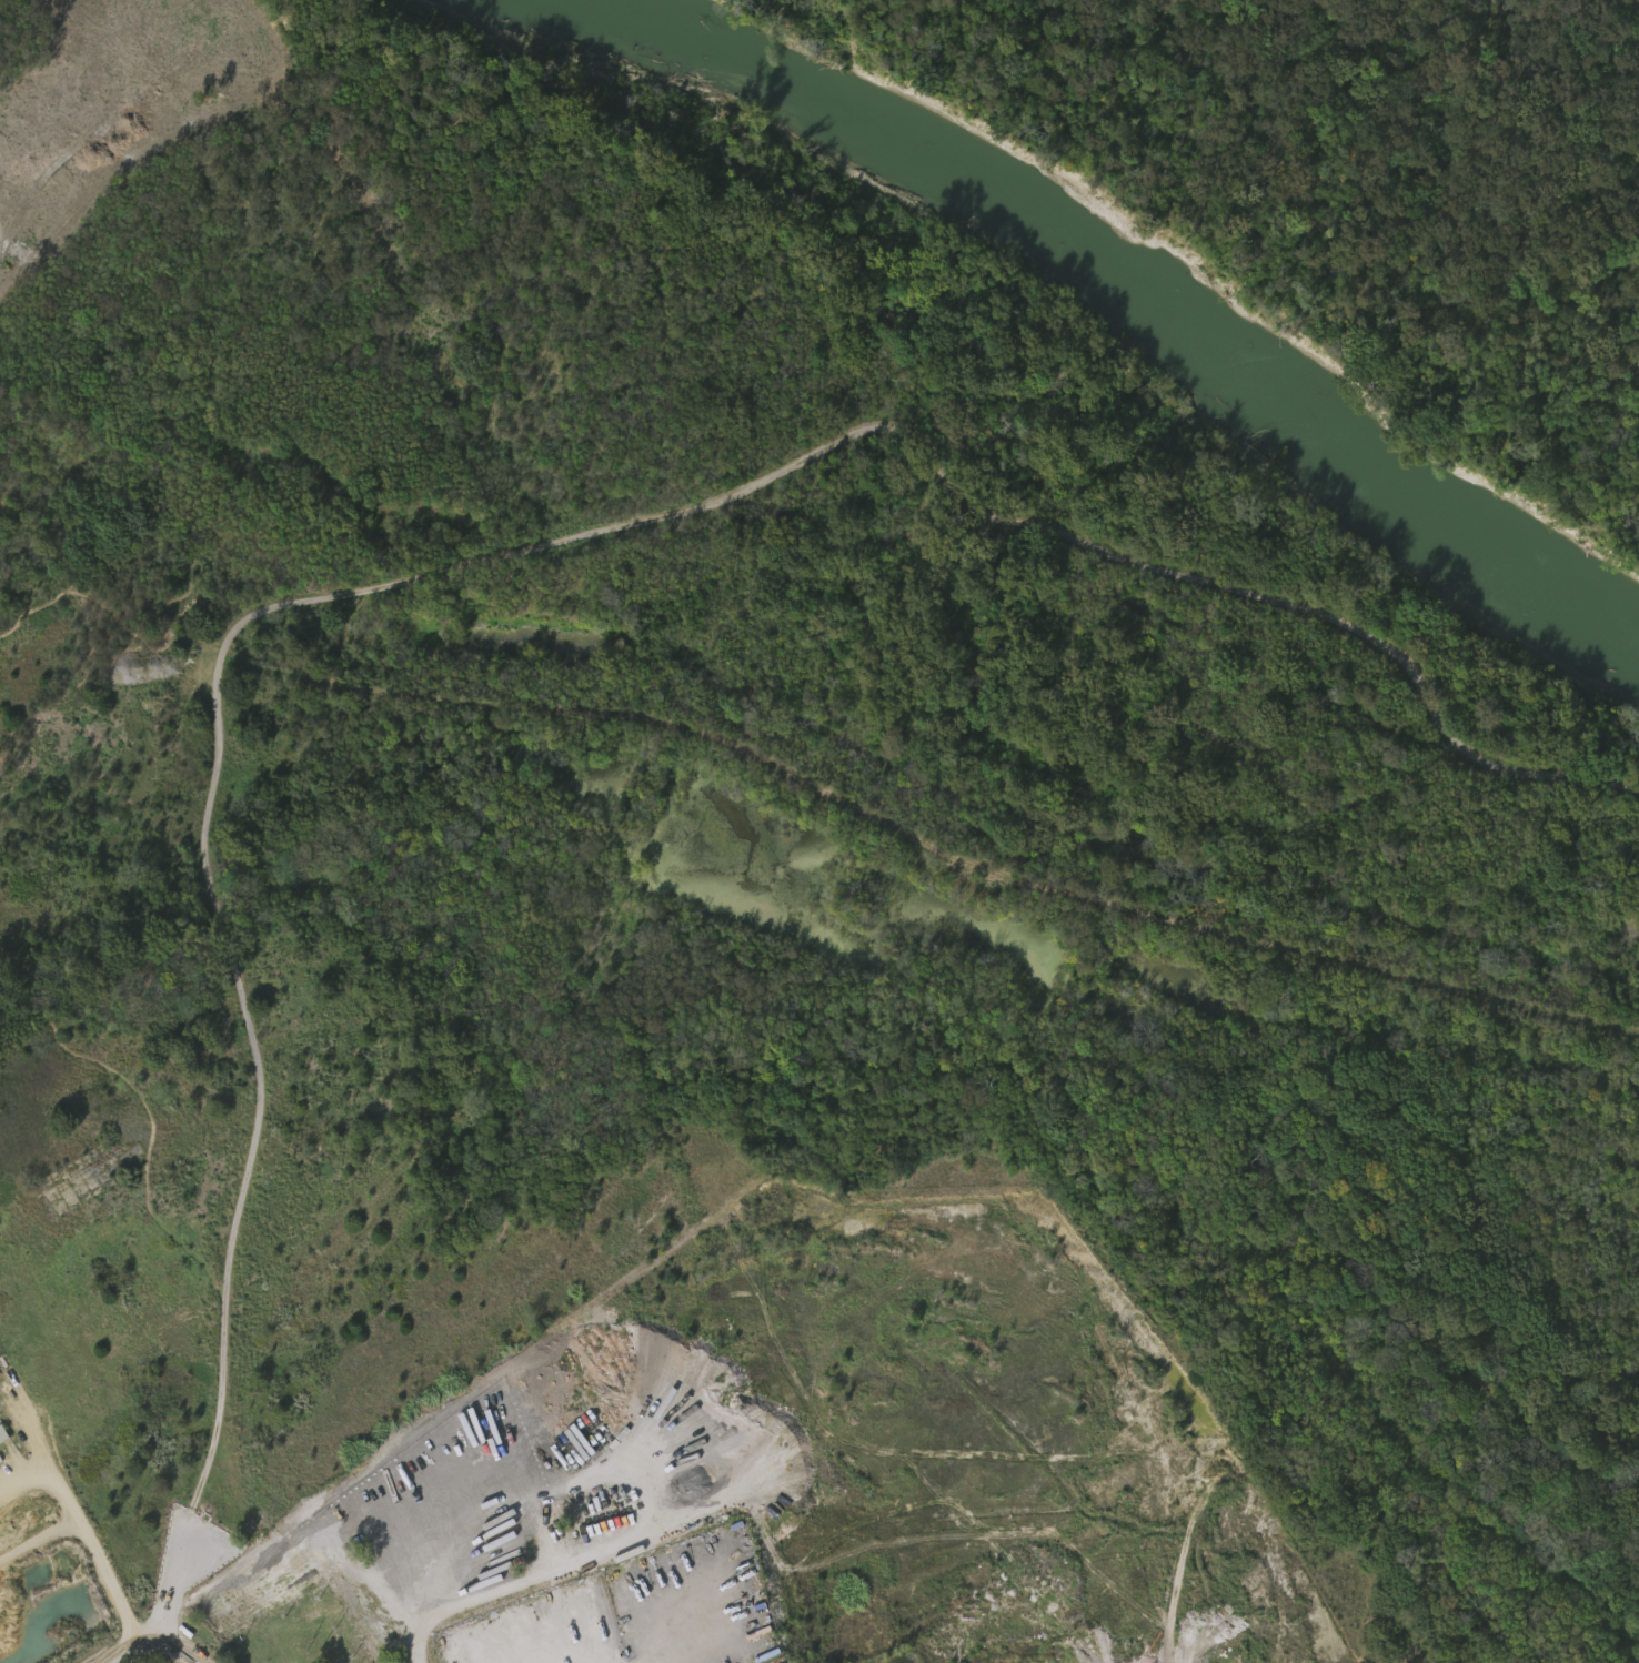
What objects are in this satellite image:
river: (1158, 302)
road: (240, 994)
building: (2, 1433)
road: (22, 1474)
road: (76, 1515)
road: (164, 1647)

